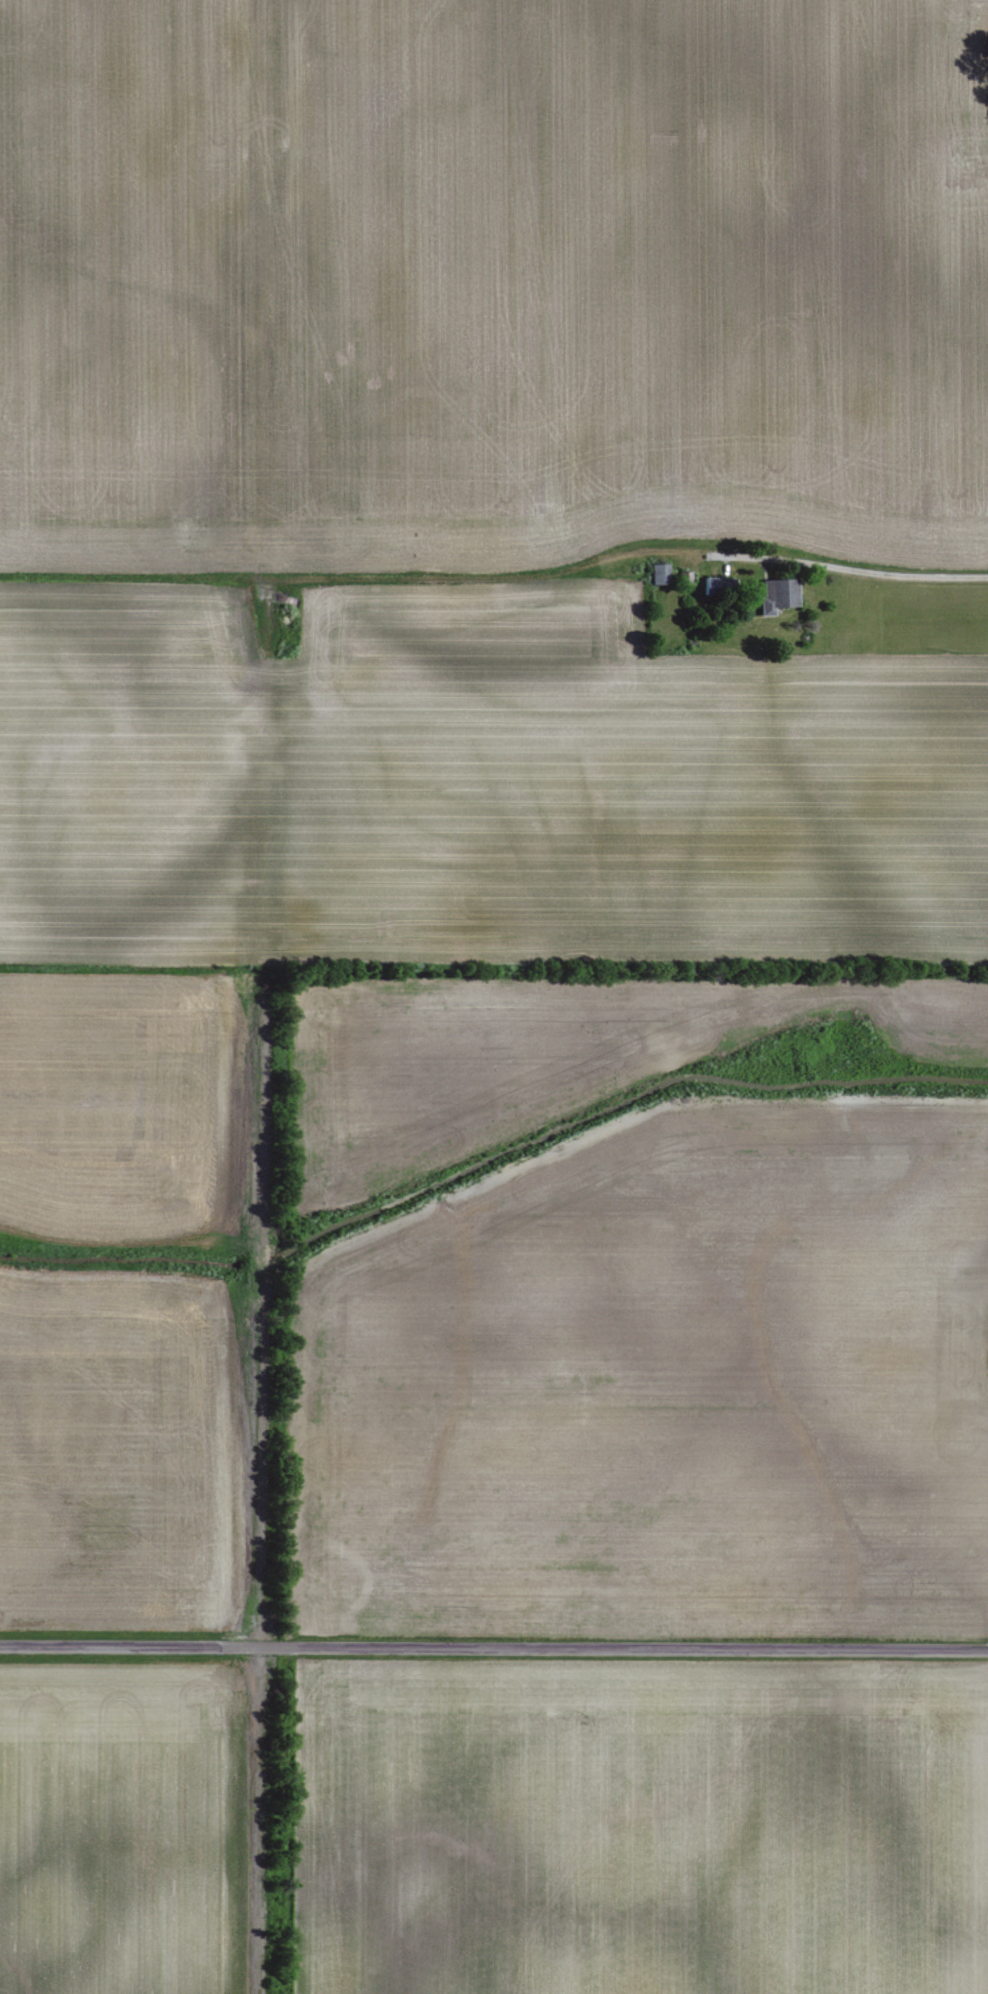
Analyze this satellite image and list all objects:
road: (871, 573)
building: (660, 574)
building: (713, 585)
building: (778, 594)
road: (493, 1647)

